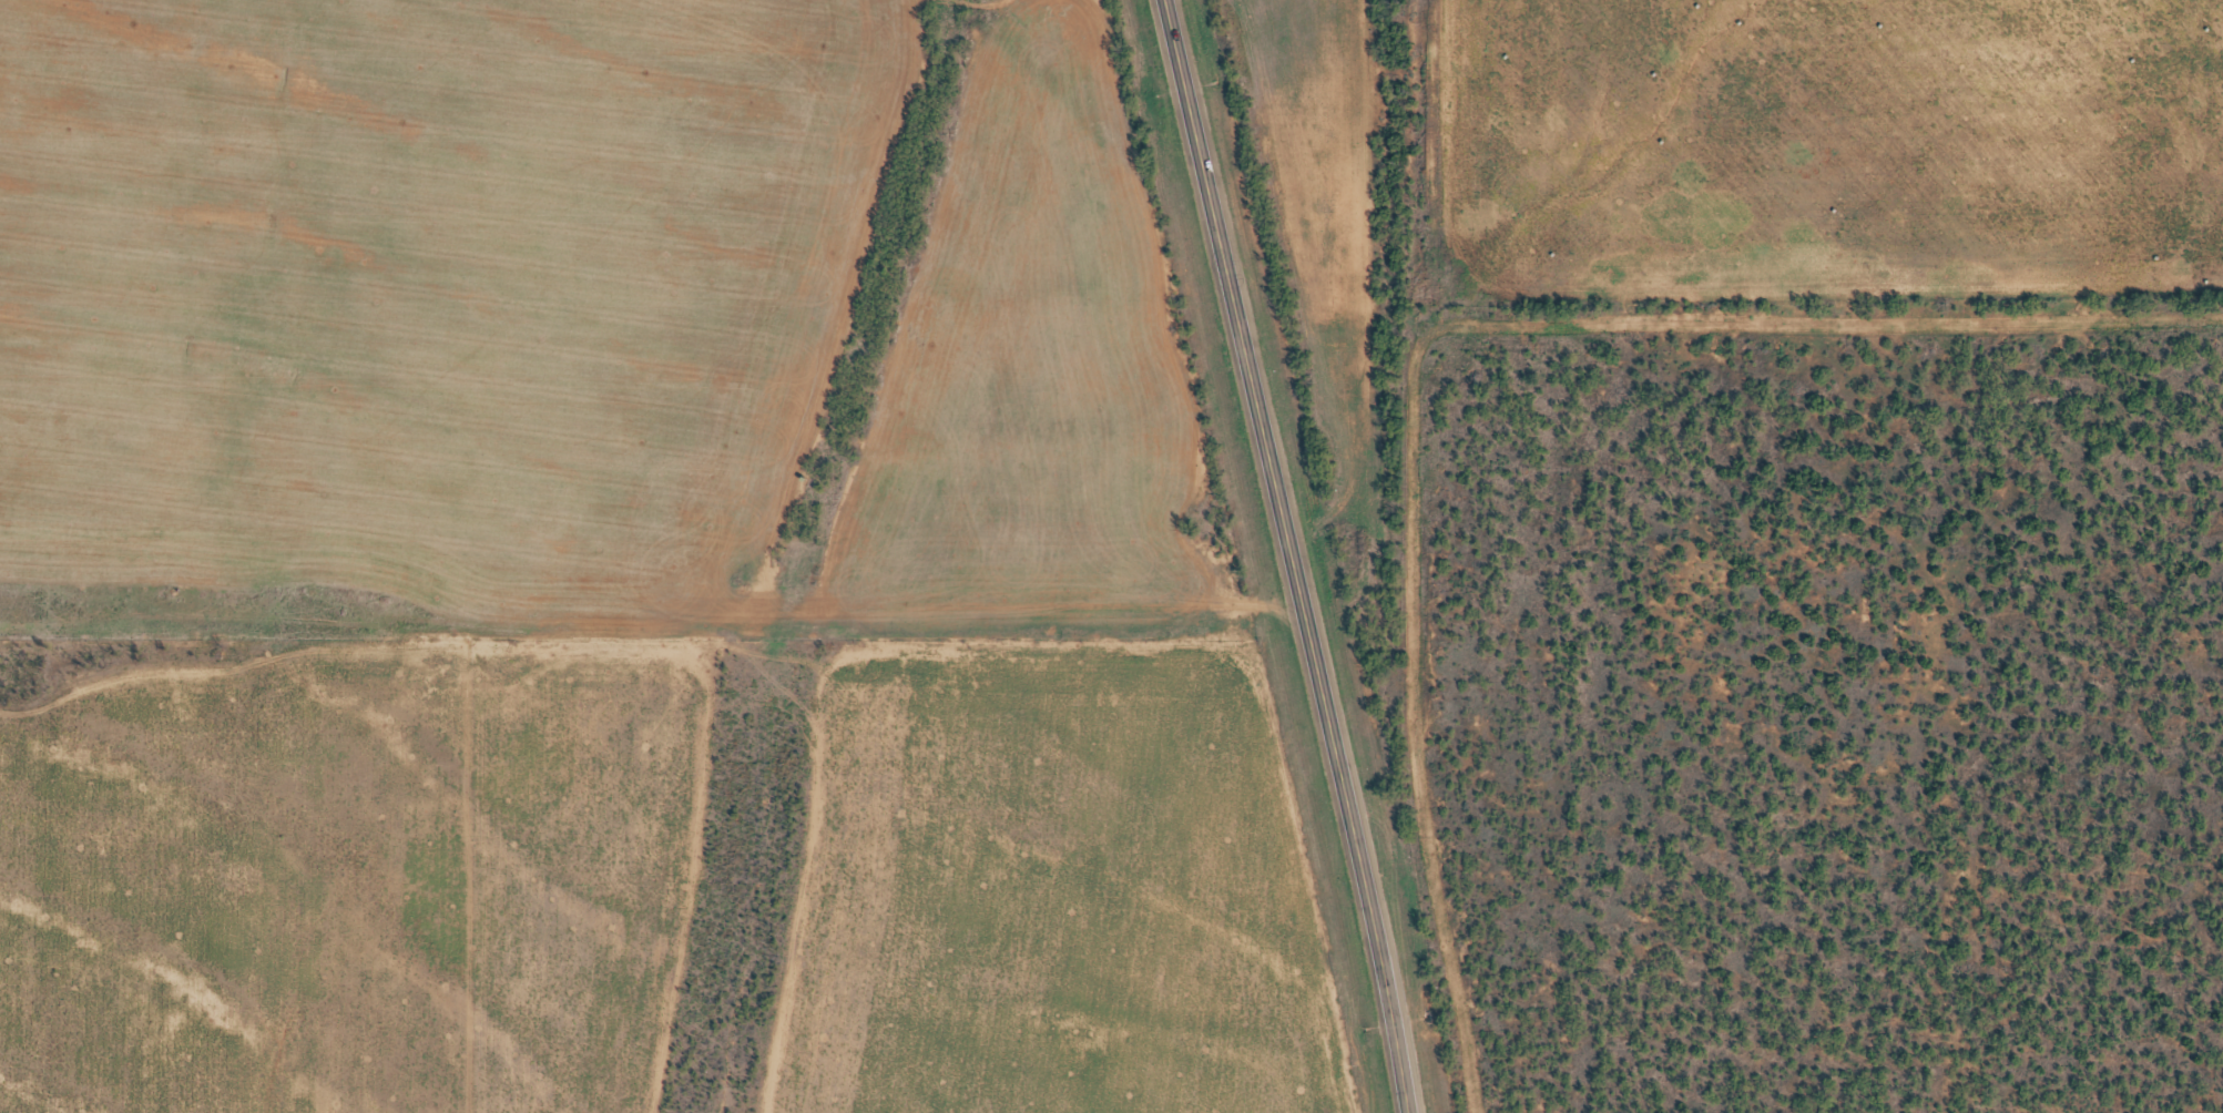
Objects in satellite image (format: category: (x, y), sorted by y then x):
road: (1289, 555)

